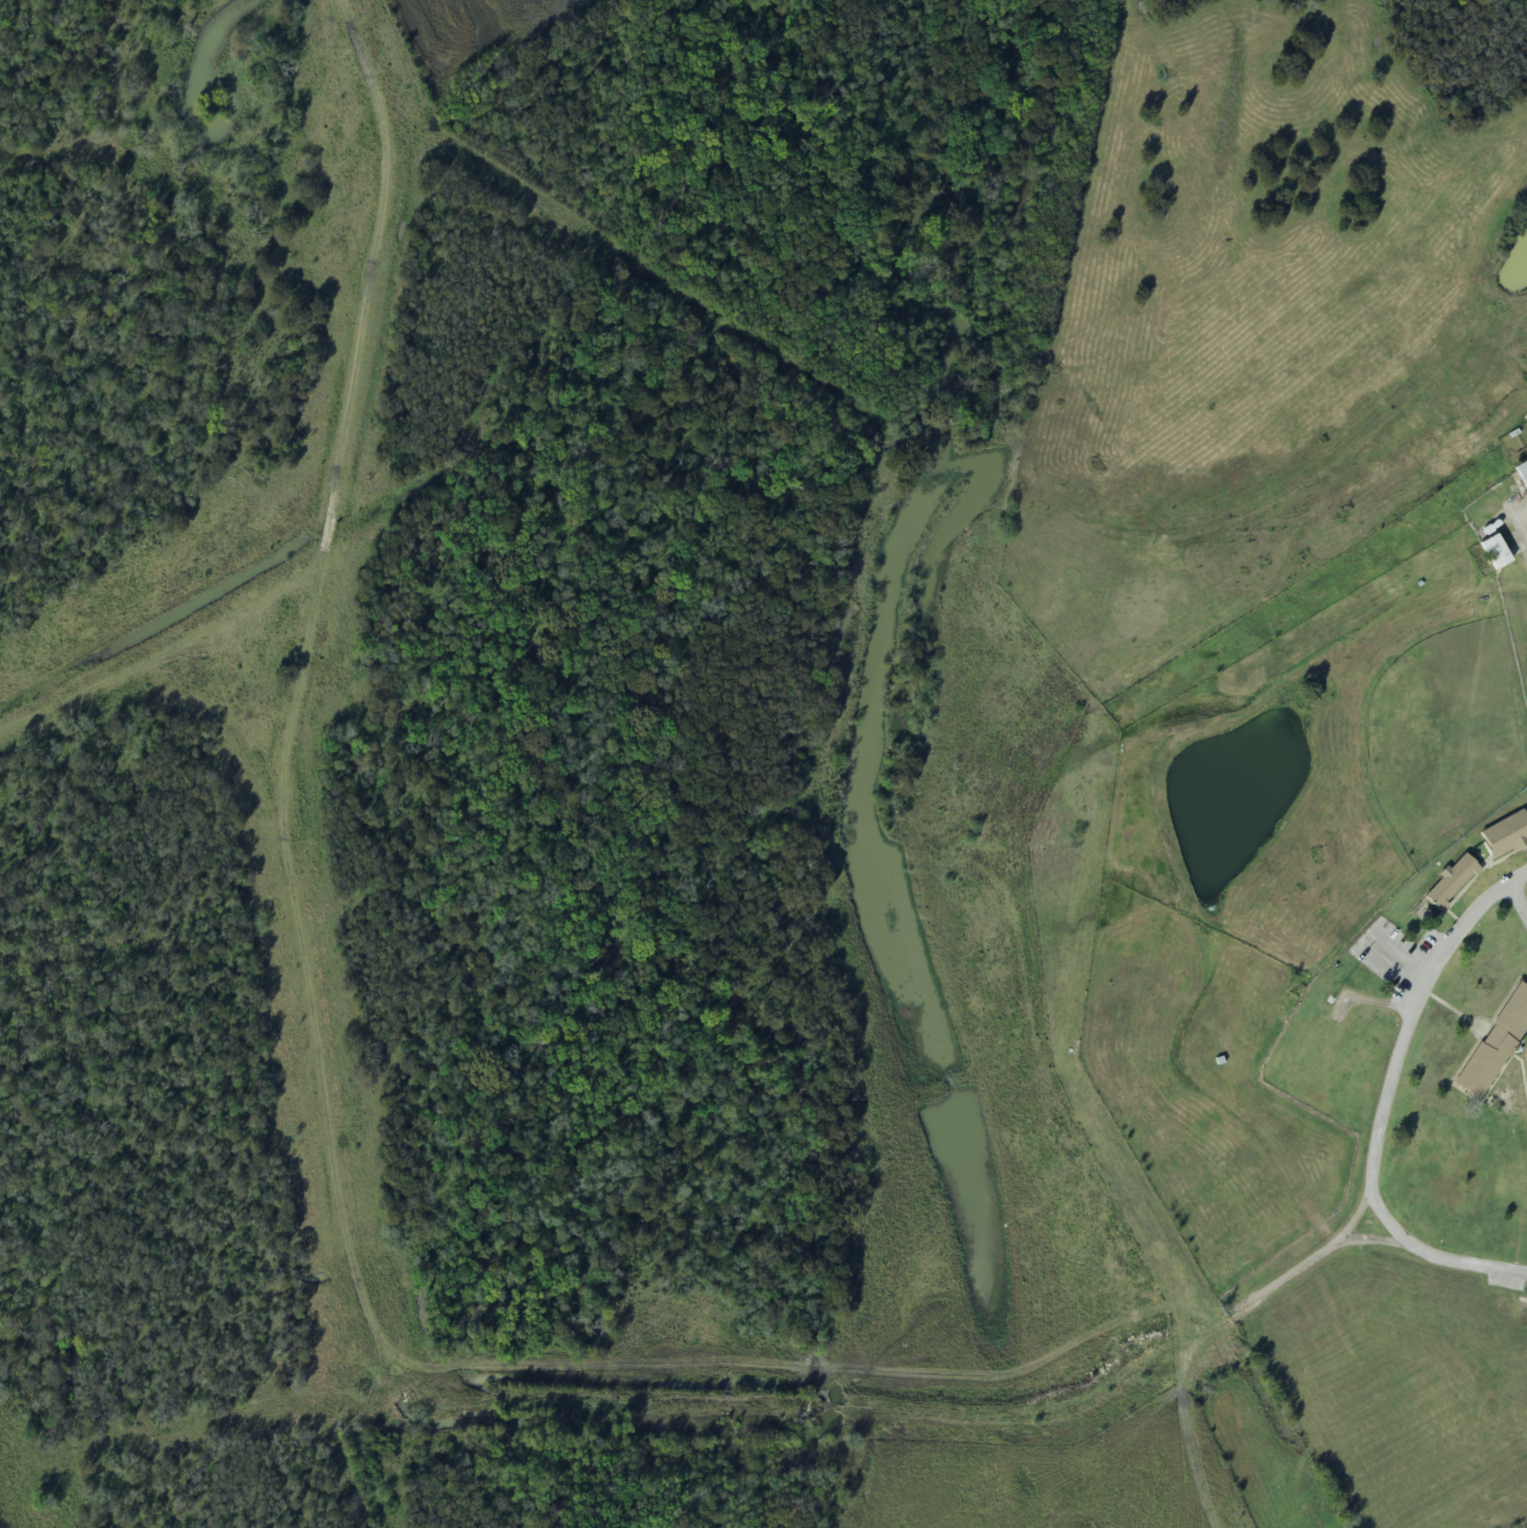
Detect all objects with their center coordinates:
building: (1523, 471)
building: (1495, 553)
building: (1506, 836)
building: (1452, 883)
building: (1497, 1046)
building: (1319, 1049)
road: (1402, 1107)
building: (1518, 1187)

